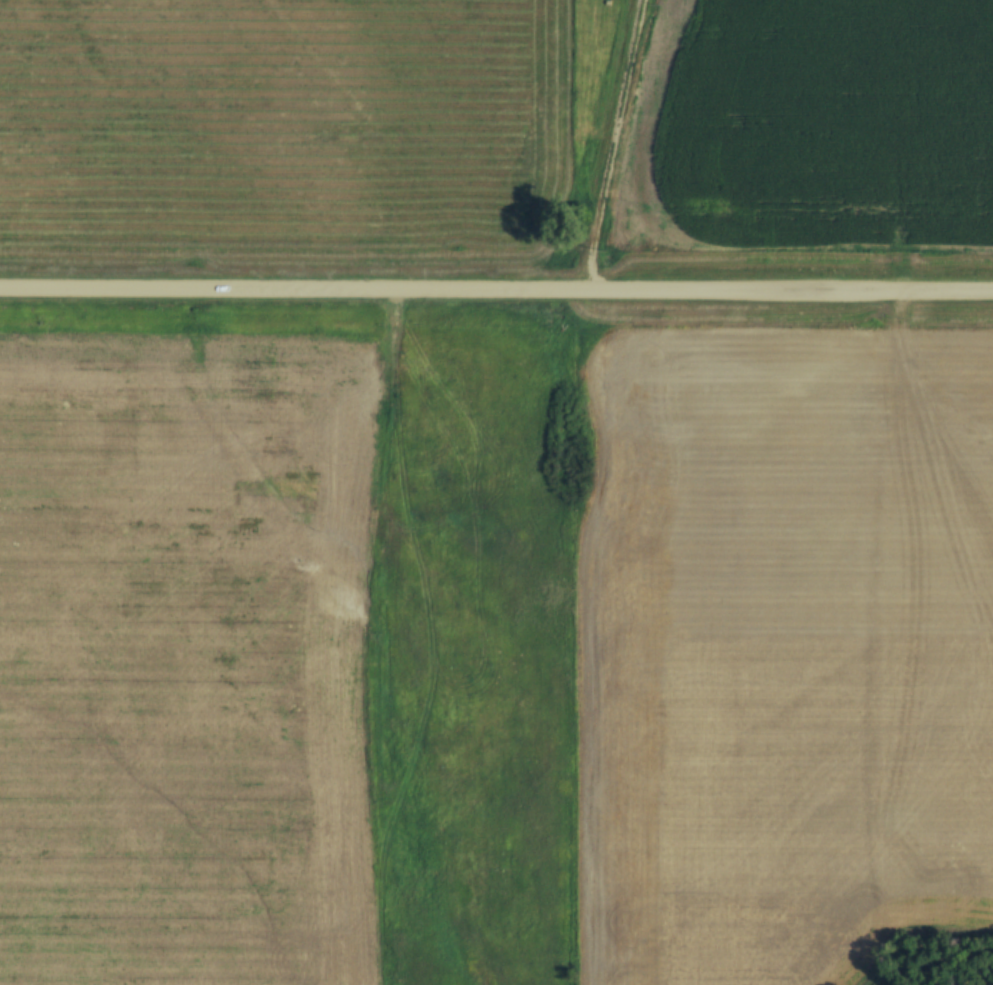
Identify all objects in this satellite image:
road: (496, 287)

